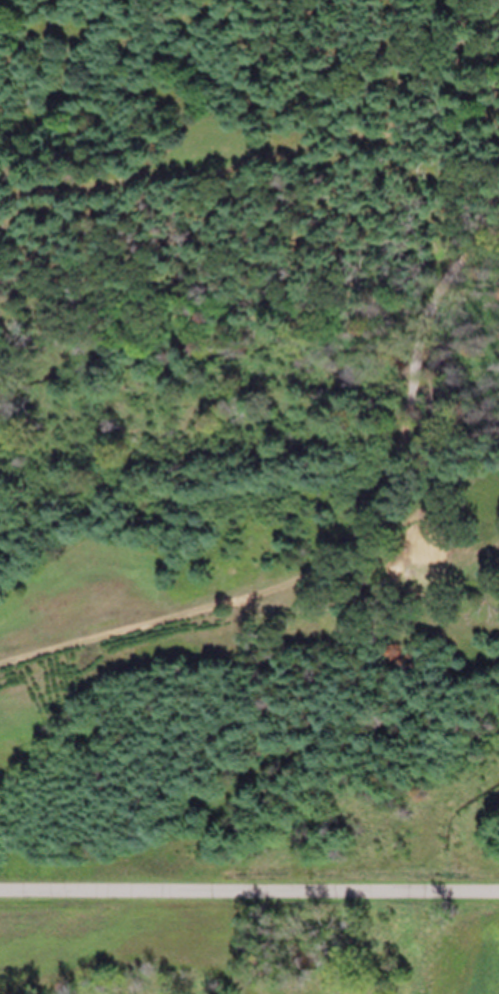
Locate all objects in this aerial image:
road: (249, 887)

